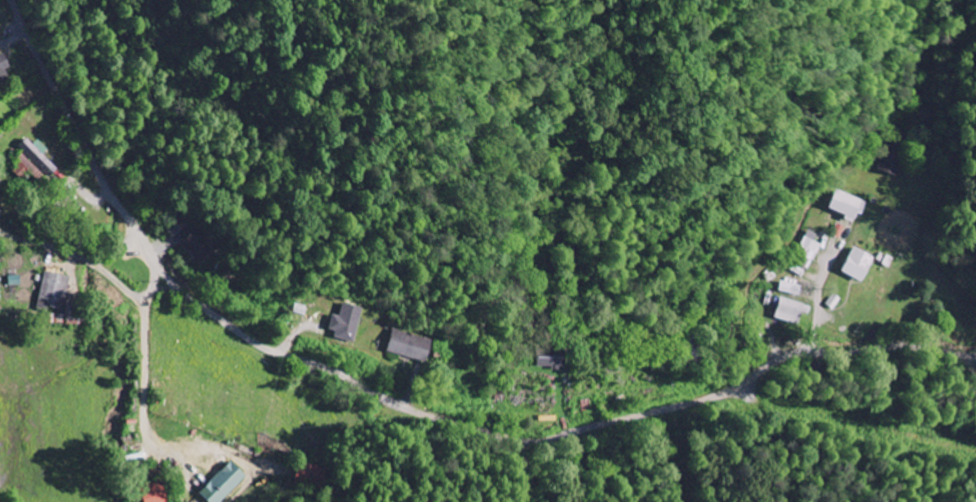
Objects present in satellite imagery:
building: (3, 68)
building: (891, 158)
building: (34, 161)
building: (847, 204)
building: (202, 243)
road: (19, 245)
building: (809, 250)
road: (772, 252)
building: (855, 263)
road: (115, 279)
building: (789, 287)
building: (52, 290)
road: (817, 306)
building: (788, 310)
building: (349, 322)
road: (56, 326)
building: (411, 344)
building: (552, 357)
road: (407, 405)
building: (145, 474)
road: (535, 474)
building: (220, 483)
building: (150, 492)
road: (0, 499)

